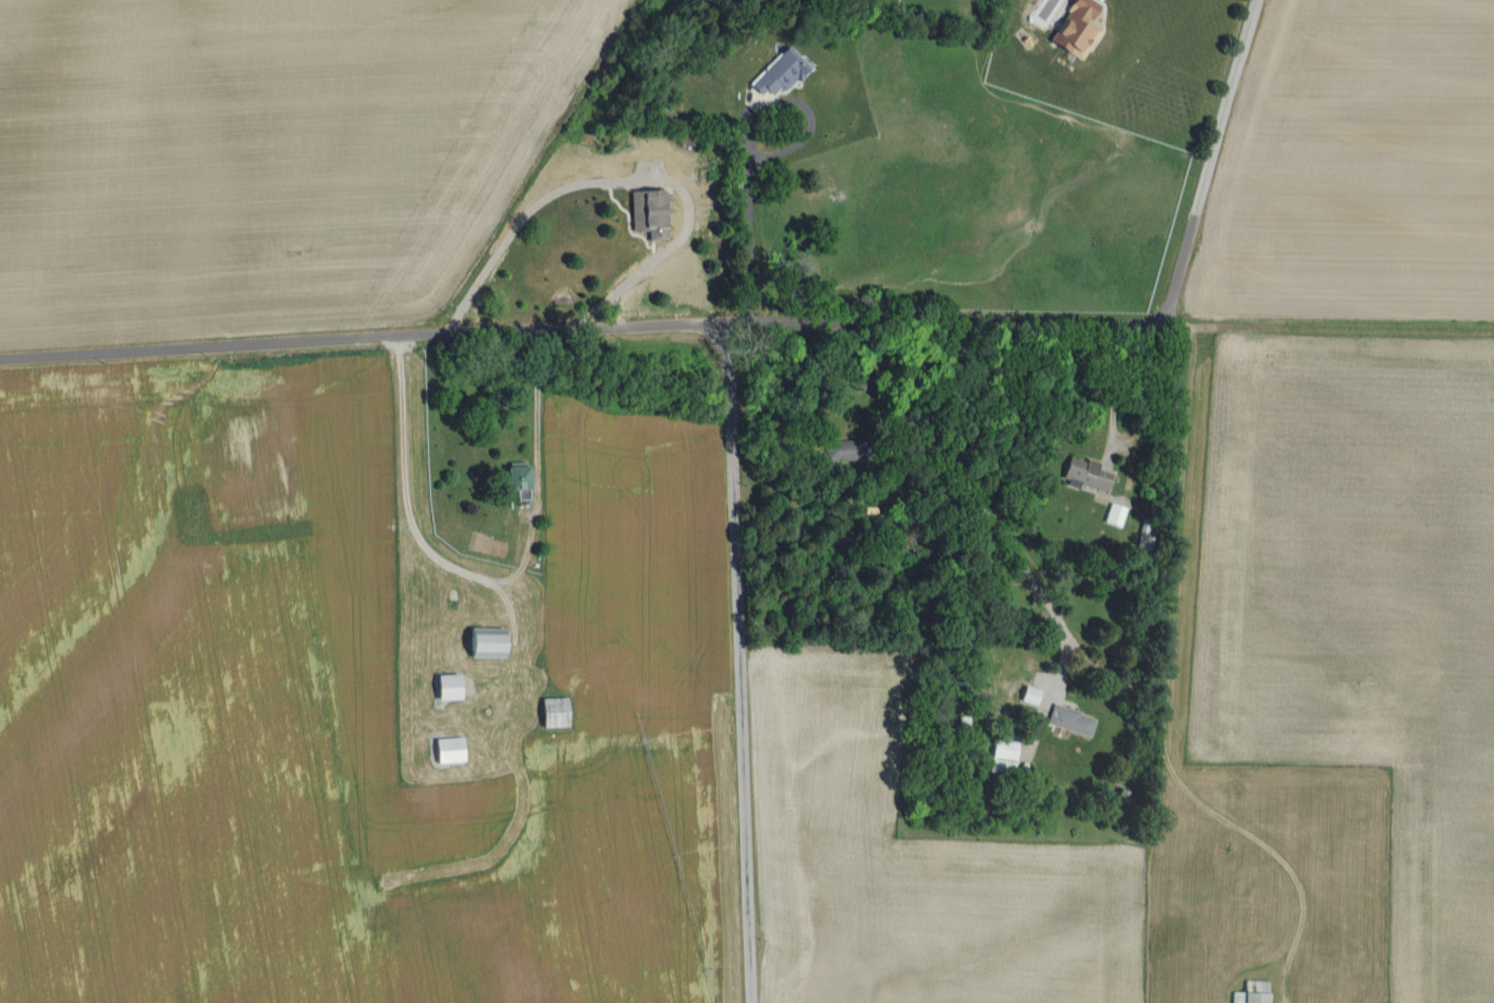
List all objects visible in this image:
building: (1074, 34)
building: (779, 72)
road: (746, 134)
road: (1212, 161)
building: (646, 210)
road: (579, 324)
road: (1110, 384)
building: (844, 447)
building: (1085, 472)
building: (516, 481)
road: (981, 504)
building: (1113, 515)
road: (482, 575)
building: (484, 643)
road: (737, 661)
building: (445, 687)
building: (553, 713)
building: (1068, 719)
building: (447, 751)
building: (1004, 751)
building: (1251, 994)

